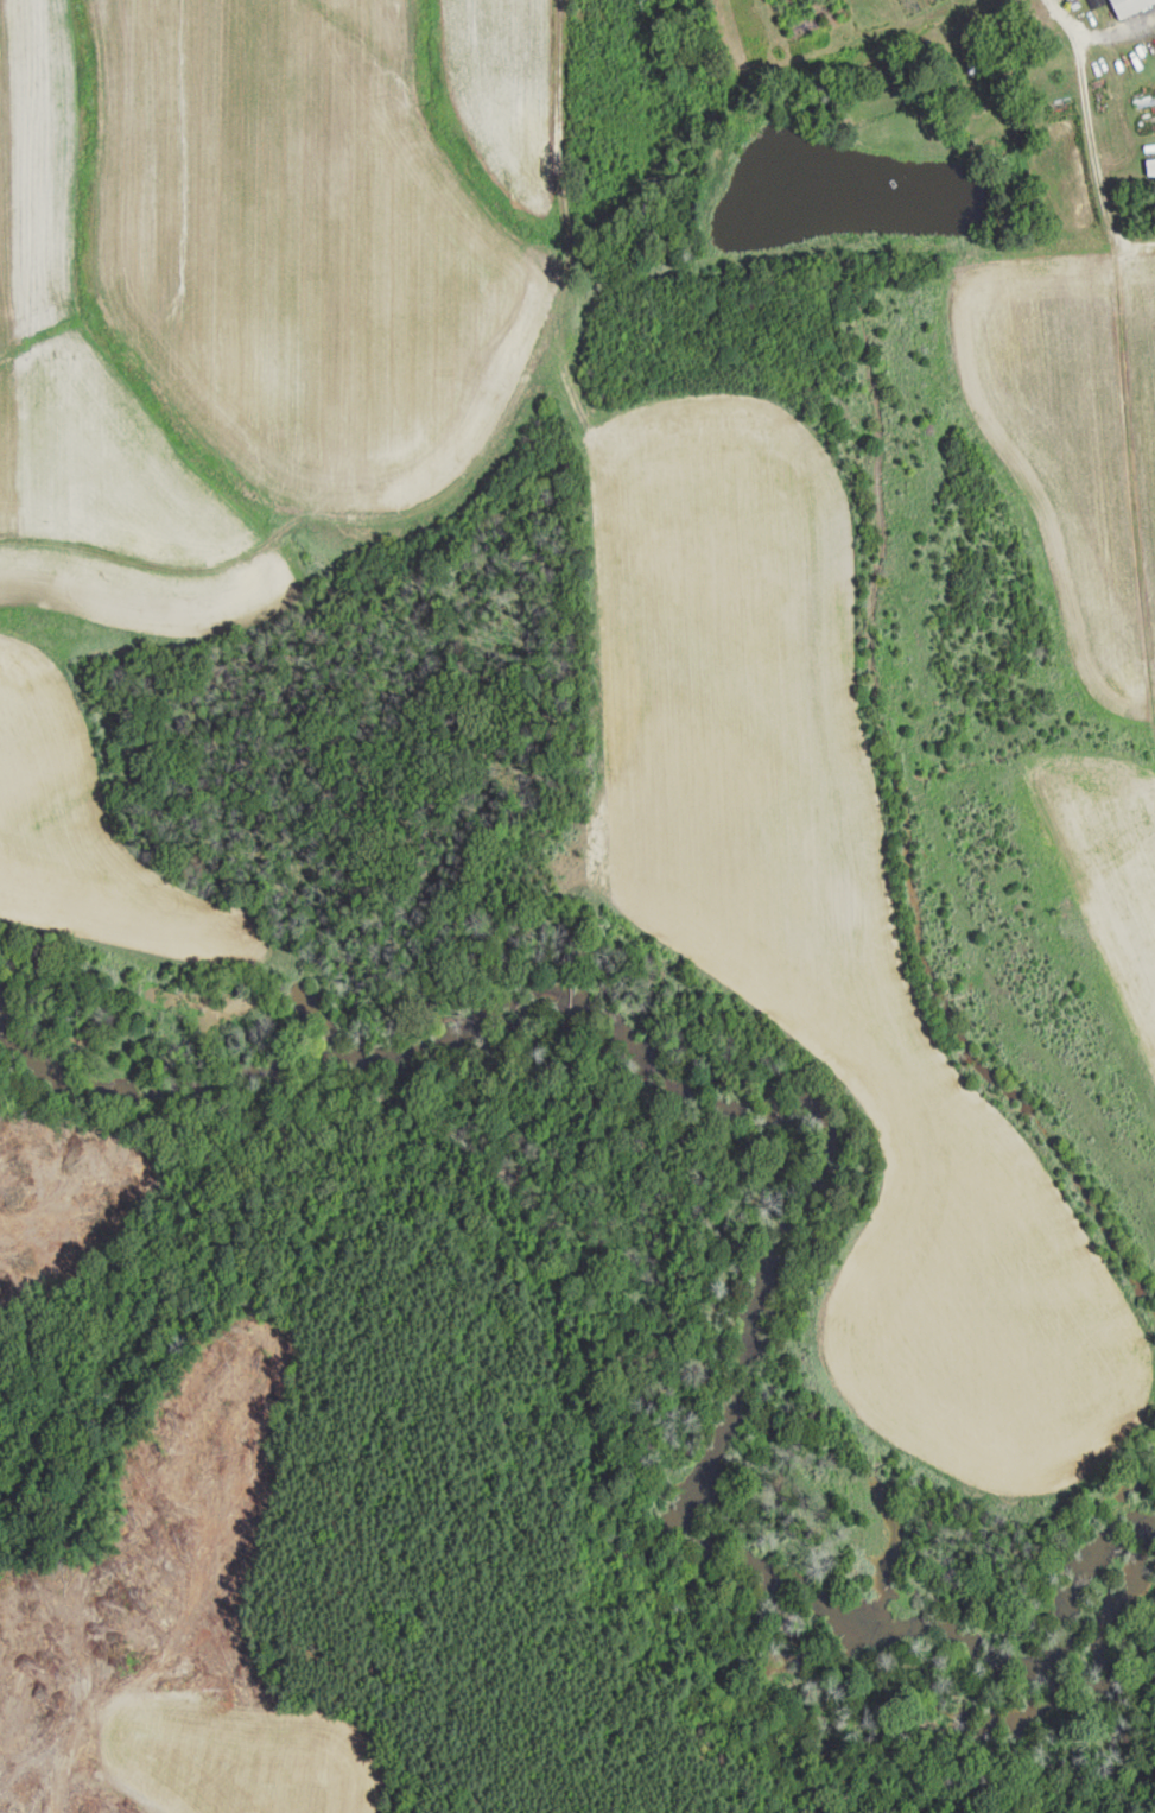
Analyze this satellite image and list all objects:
building: (912, 7)
road: (1077, 27)
building: (1149, 167)

